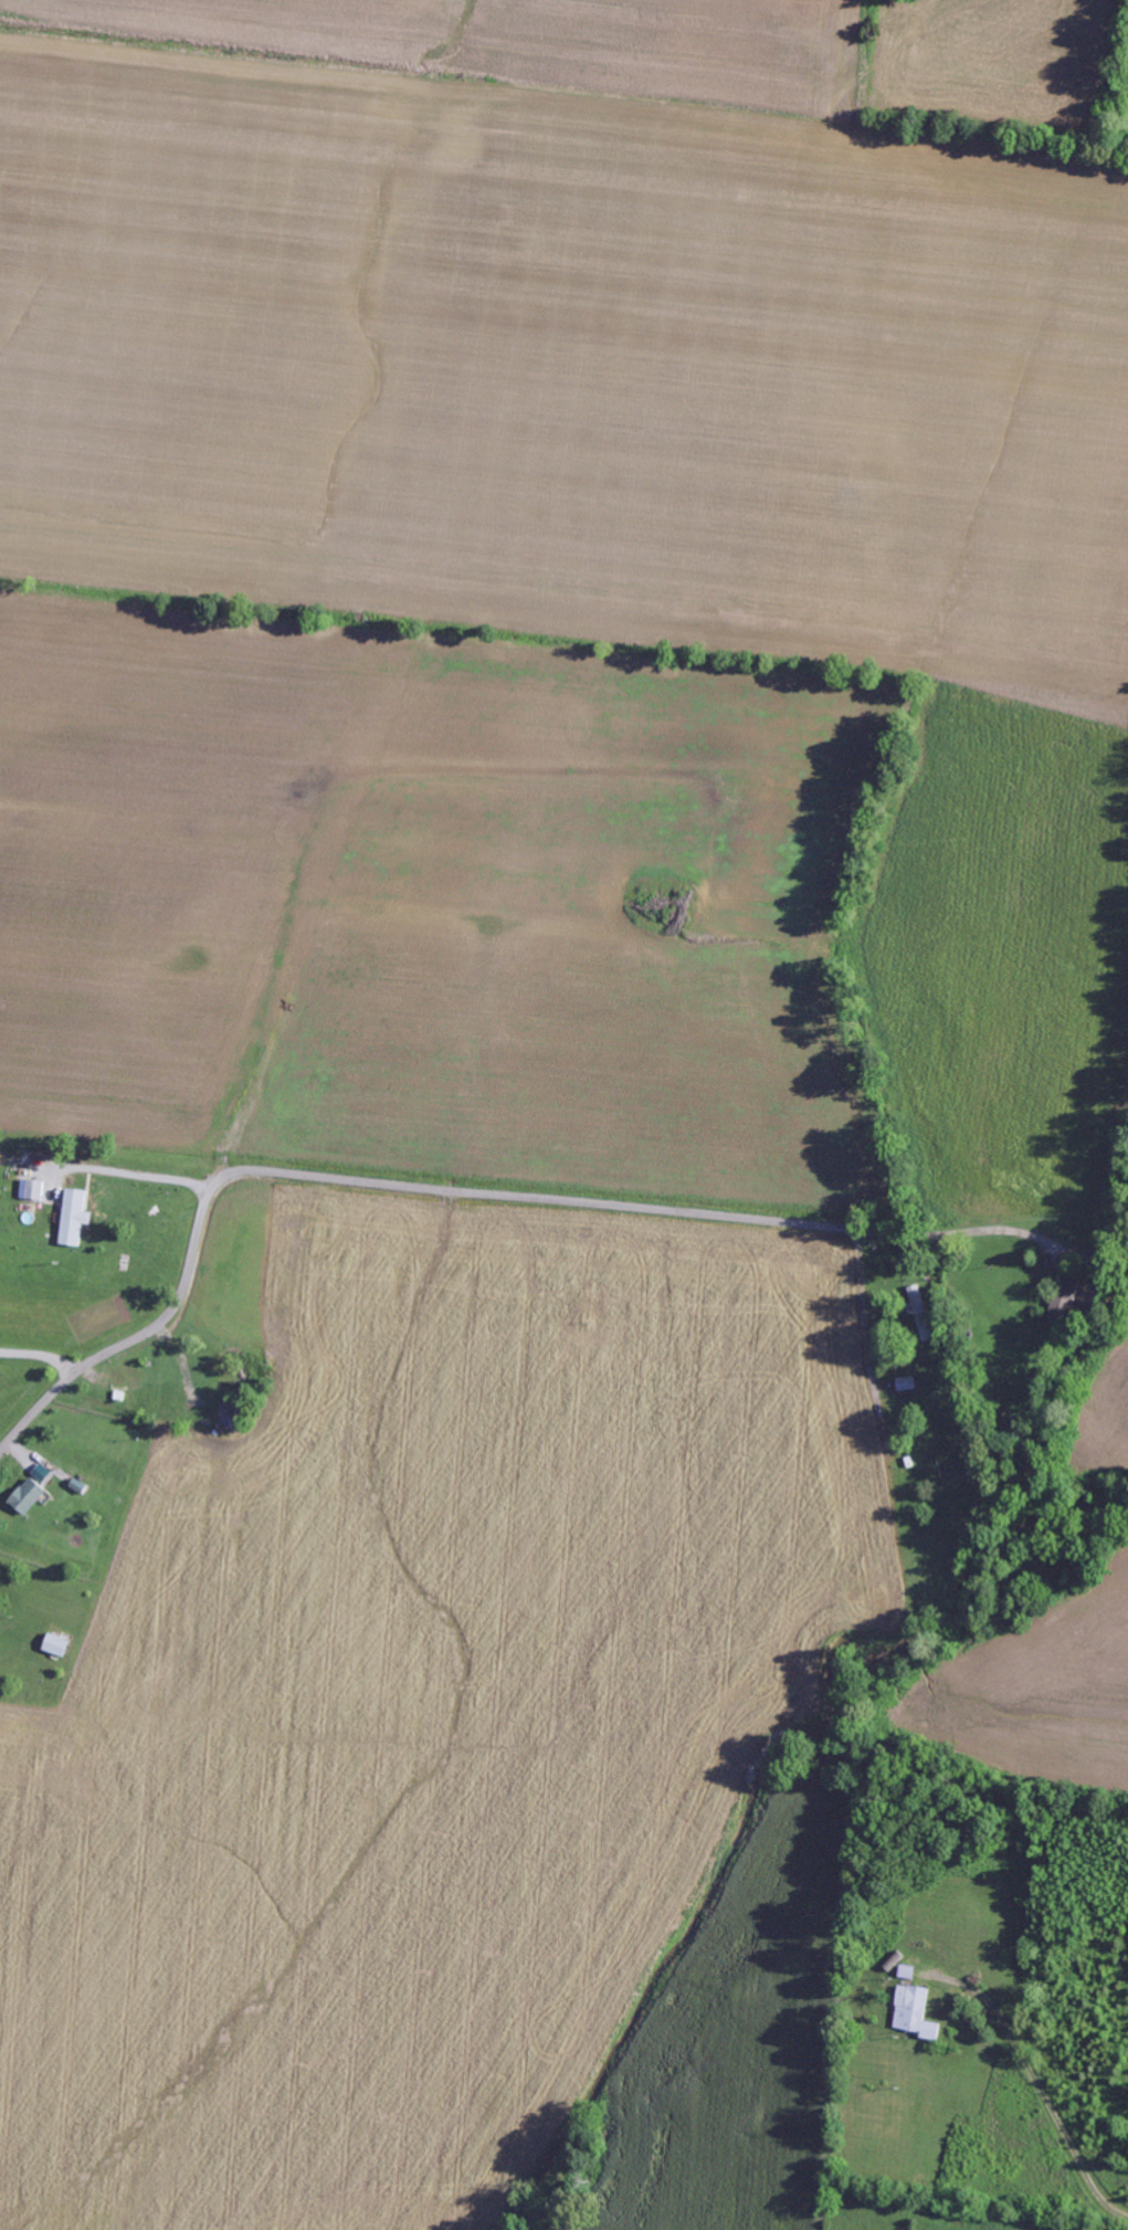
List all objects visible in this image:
building: (33, 1190)
road: (586, 1205)
building: (75, 1218)
building: (1065, 1307)
building: (923, 1314)
road: (737, 1323)
road: (143, 1338)
building: (29, 1496)
building: (56, 1645)
building: (916, 2013)

